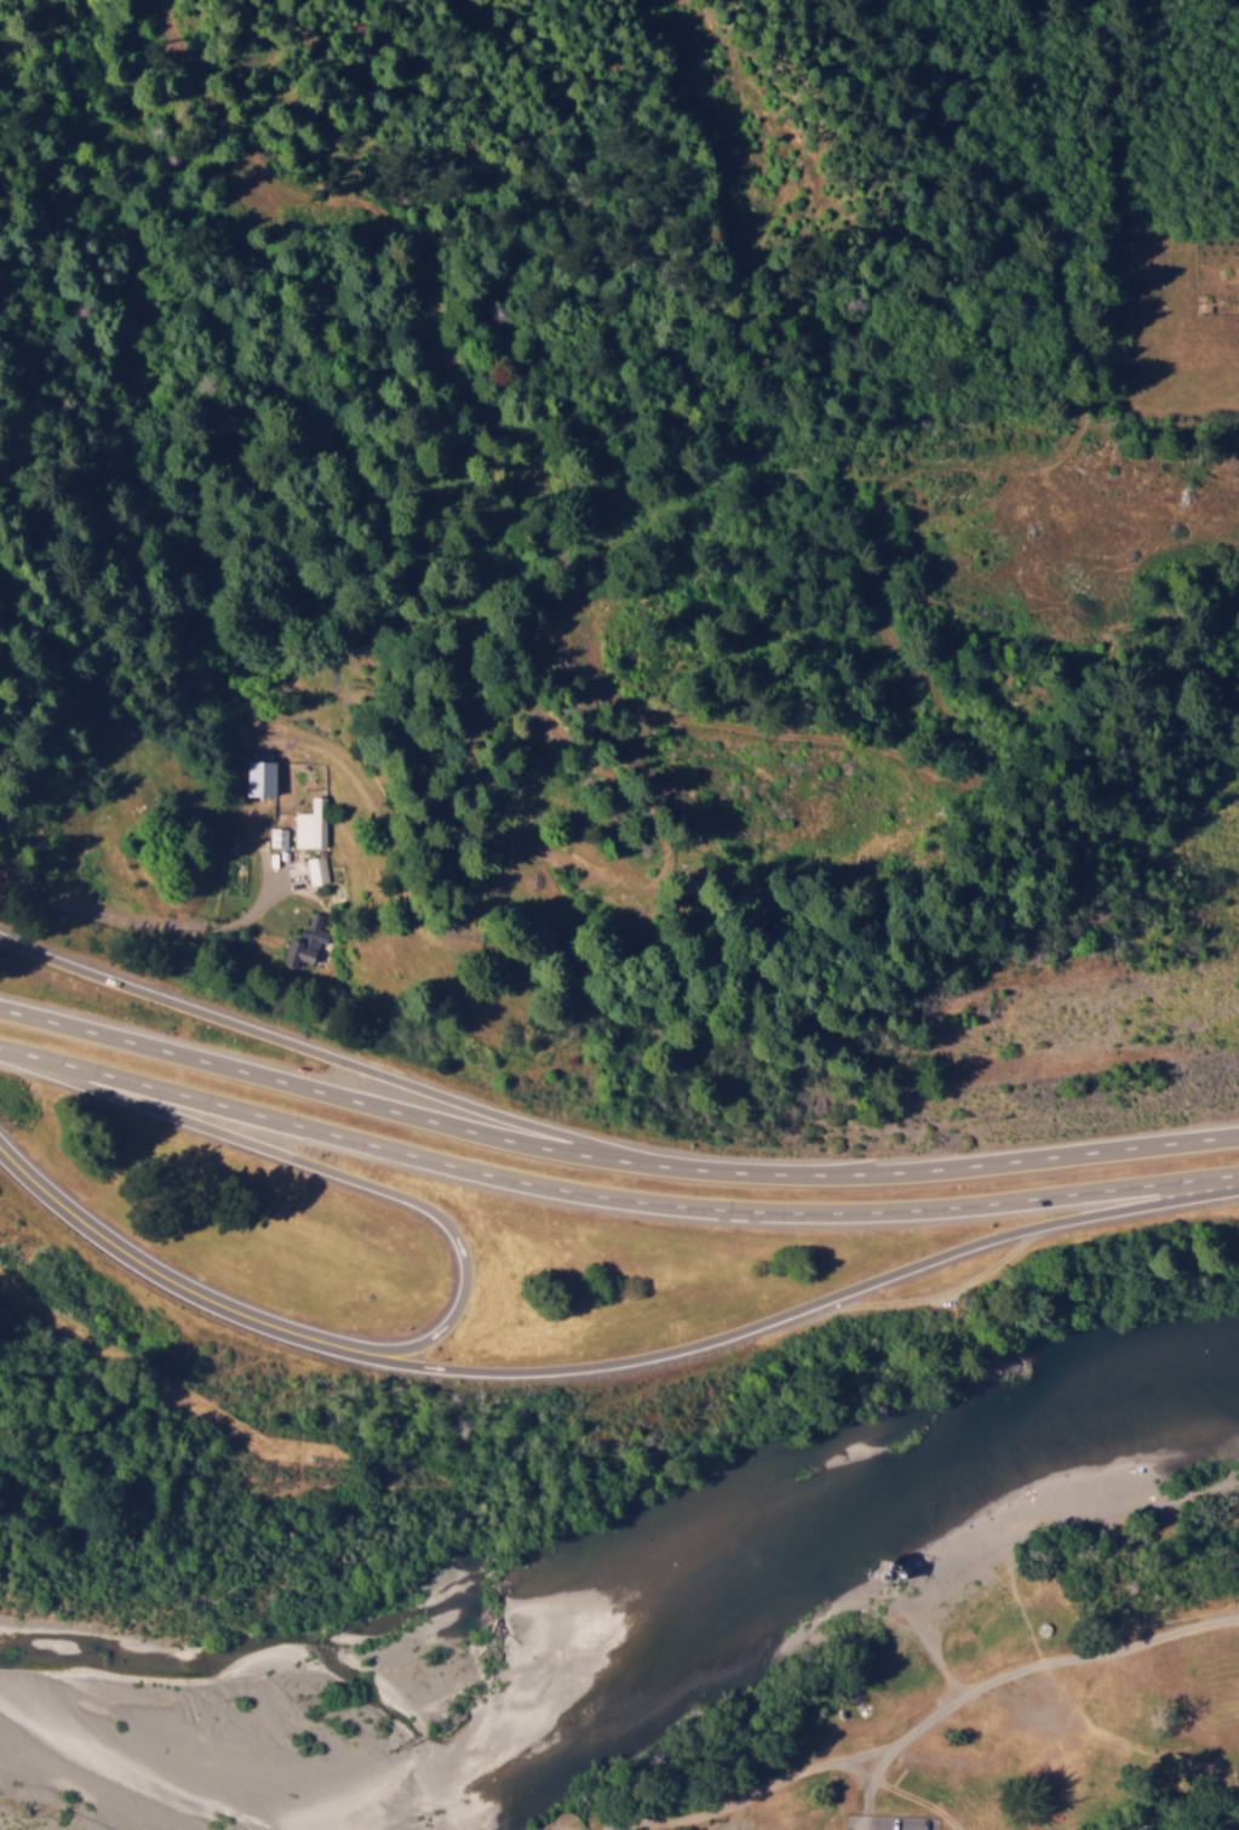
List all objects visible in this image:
building: (259, 777)
building: (310, 824)
building: (276, 836)
building: (315, 869)
road: (115, 920)
building: (304, 943)
road: (334, 1057)
road: (612, 1156)
road: (340, 1172)
road: (612, 1195)
road: (137, 1262)
road: (774, 1313)
river: (804, 1534)

